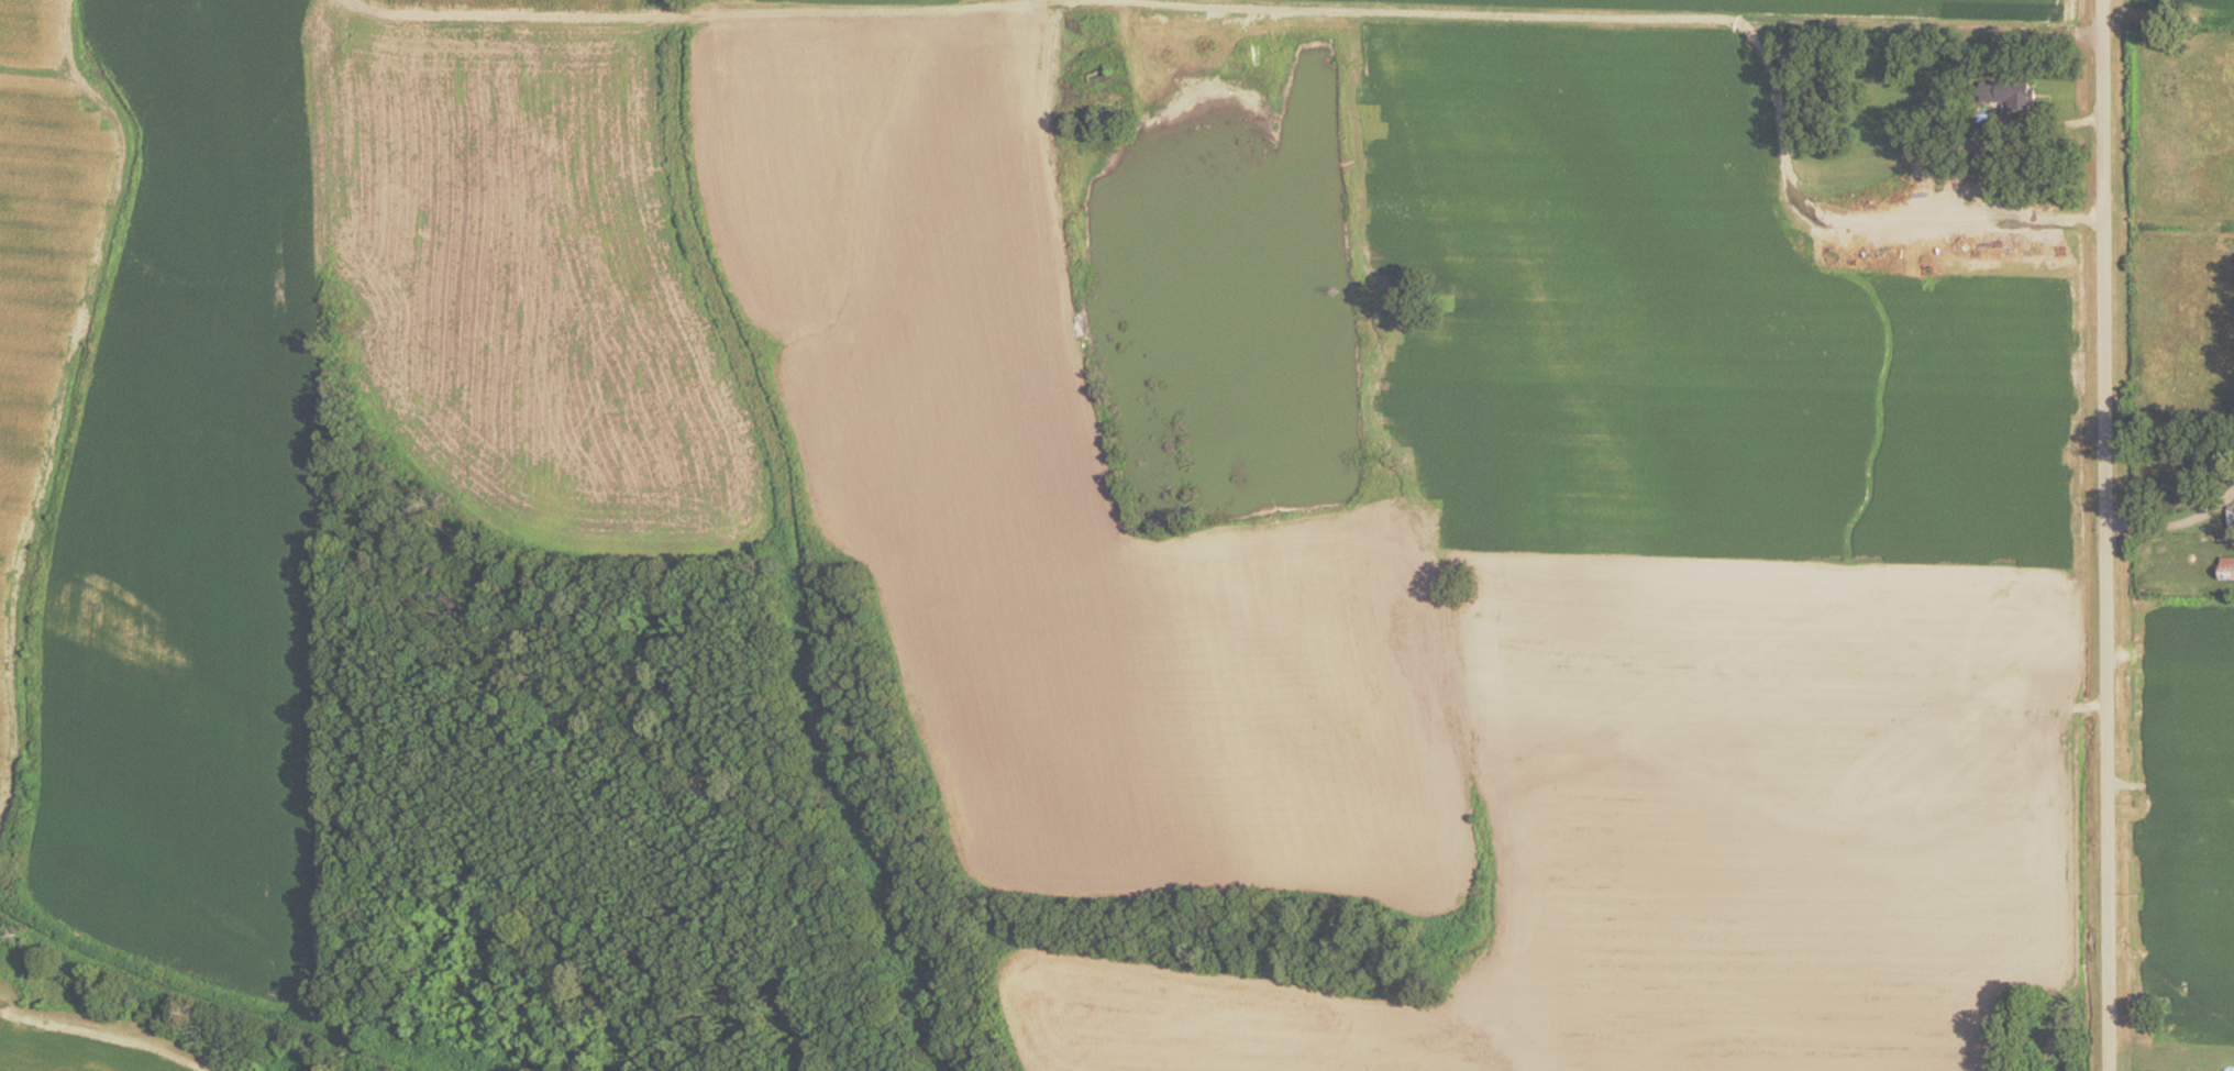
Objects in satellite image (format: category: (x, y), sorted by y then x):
building: (2230, 519)
road: (2175, 528)
road: (2105, 534)
building: (2225, 573)

